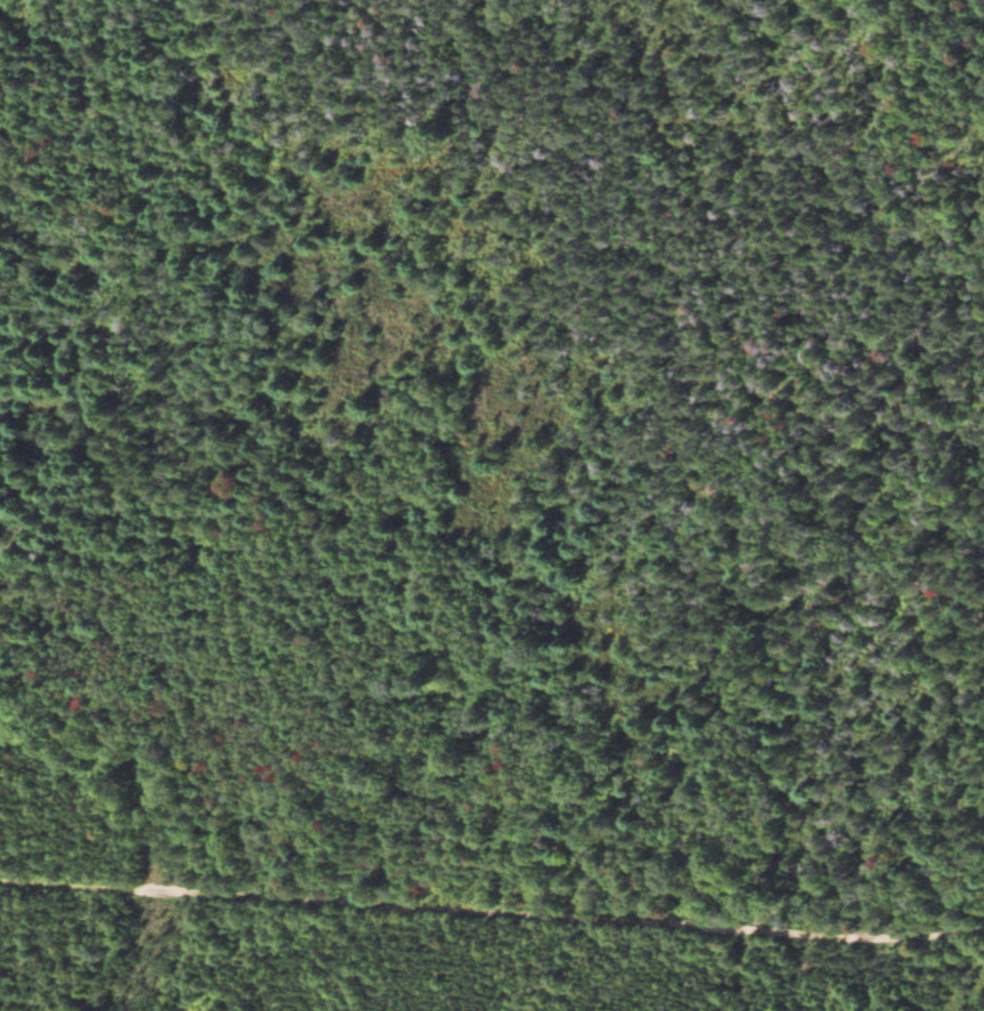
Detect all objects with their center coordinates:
road: (491, 911)

